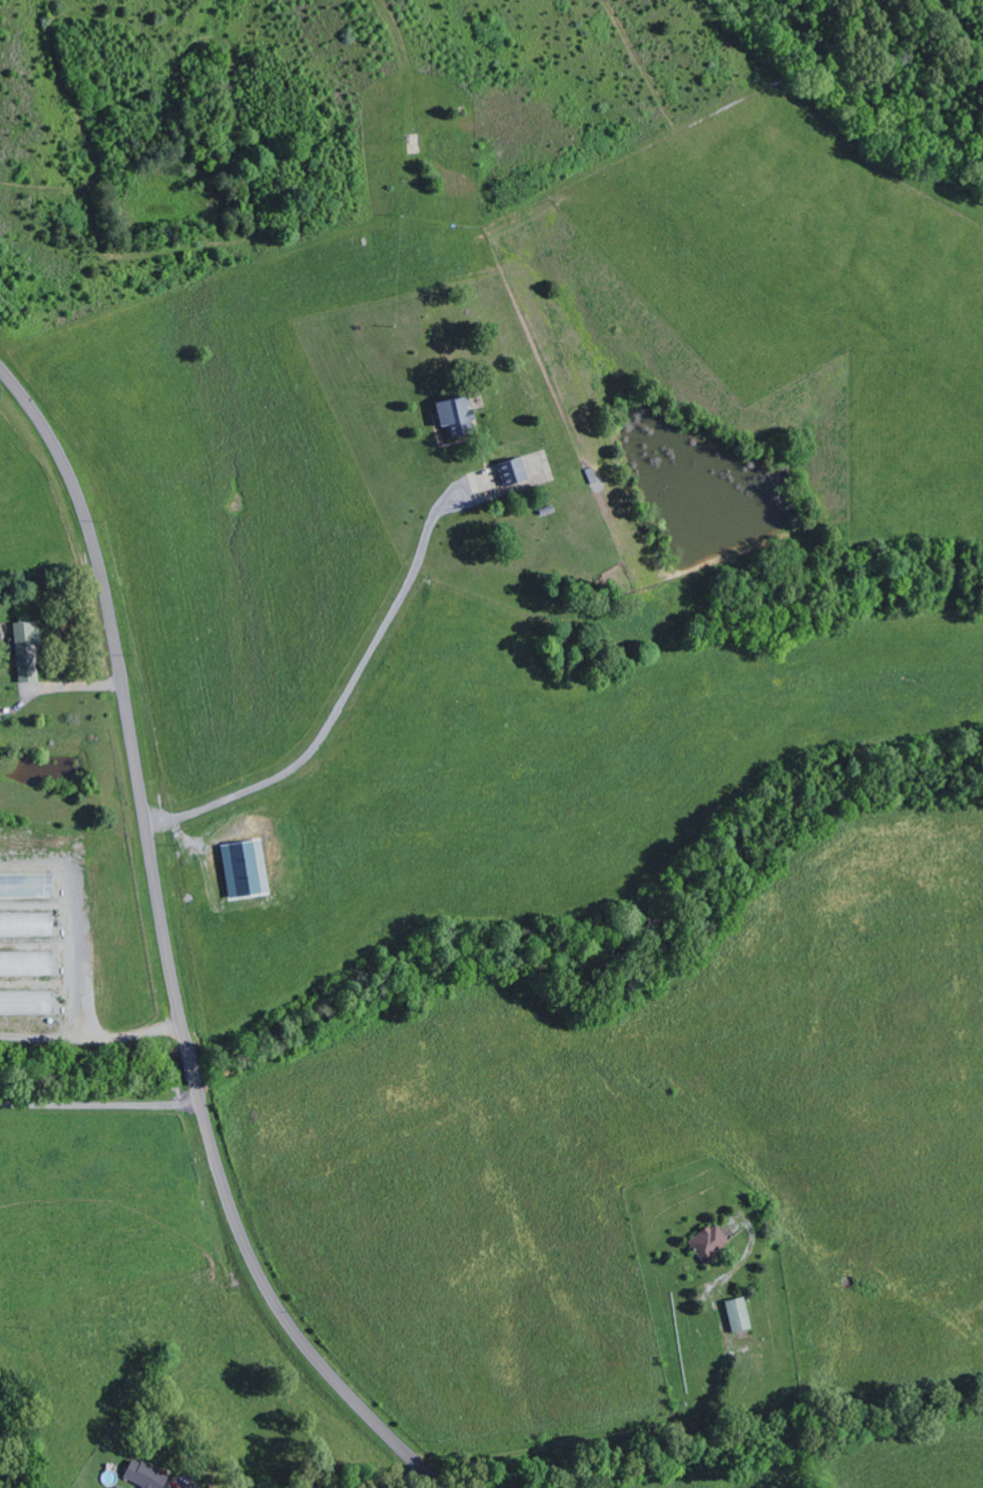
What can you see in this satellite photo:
building: (458, 416)
building: (512, 472)
building: (28, 651)
road: (351, 685)
building: (0, 718)
building: (247, 869)
building: (27, 925)
road: (167, 953)
building: (27, 964)
building: (28, 1003)
building: (710, 1244)
building: (739, 1315)
building: (147, 1476)

